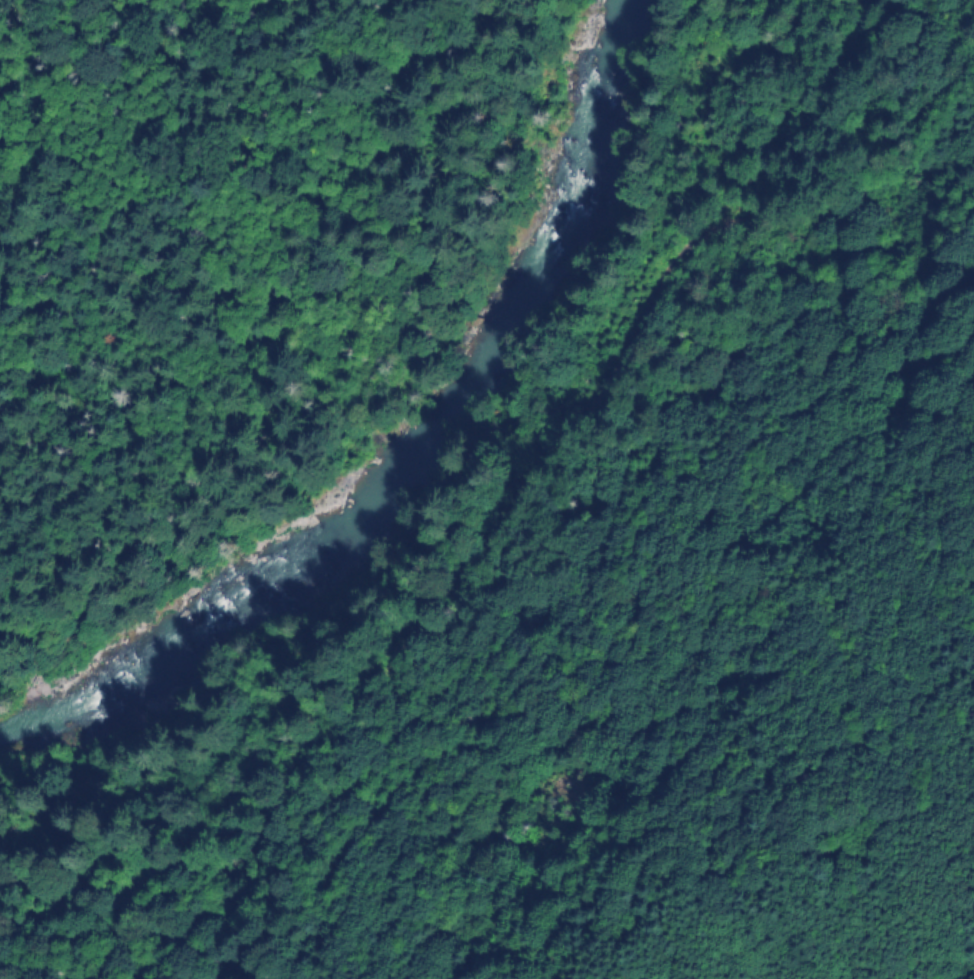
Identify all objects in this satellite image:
river: (432, 475)

